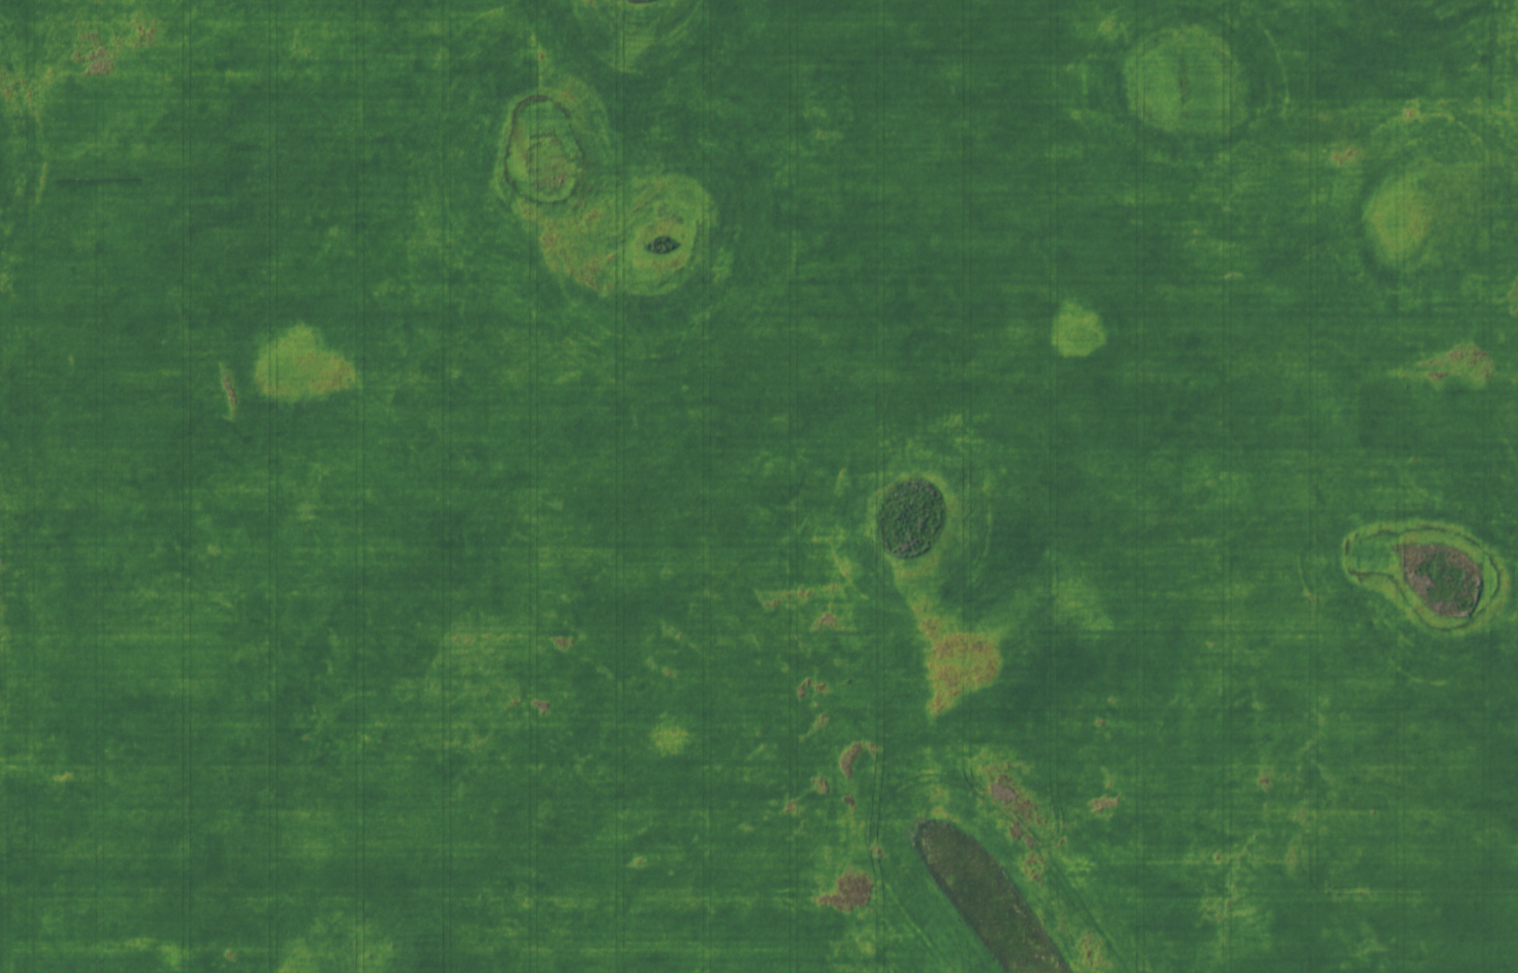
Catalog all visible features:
road: (1296, 224)

